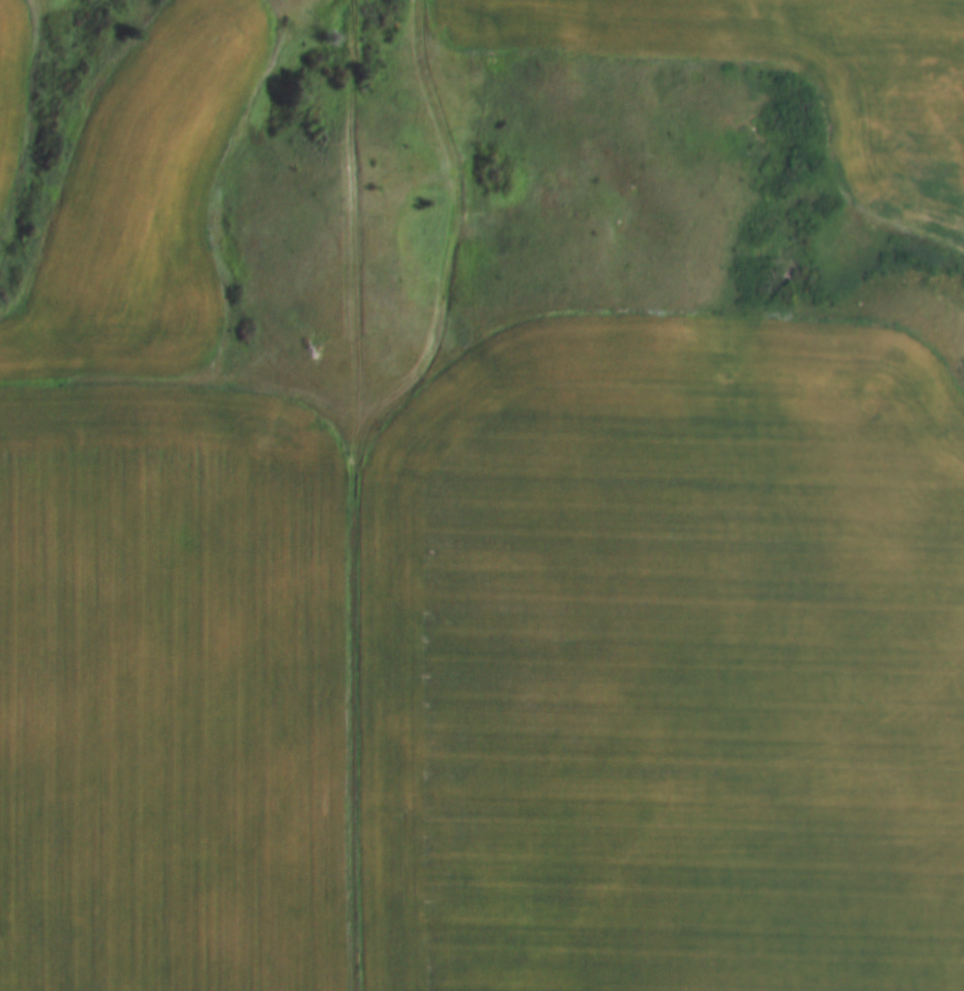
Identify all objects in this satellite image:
road: (186, 380)
road: (353, 473)

